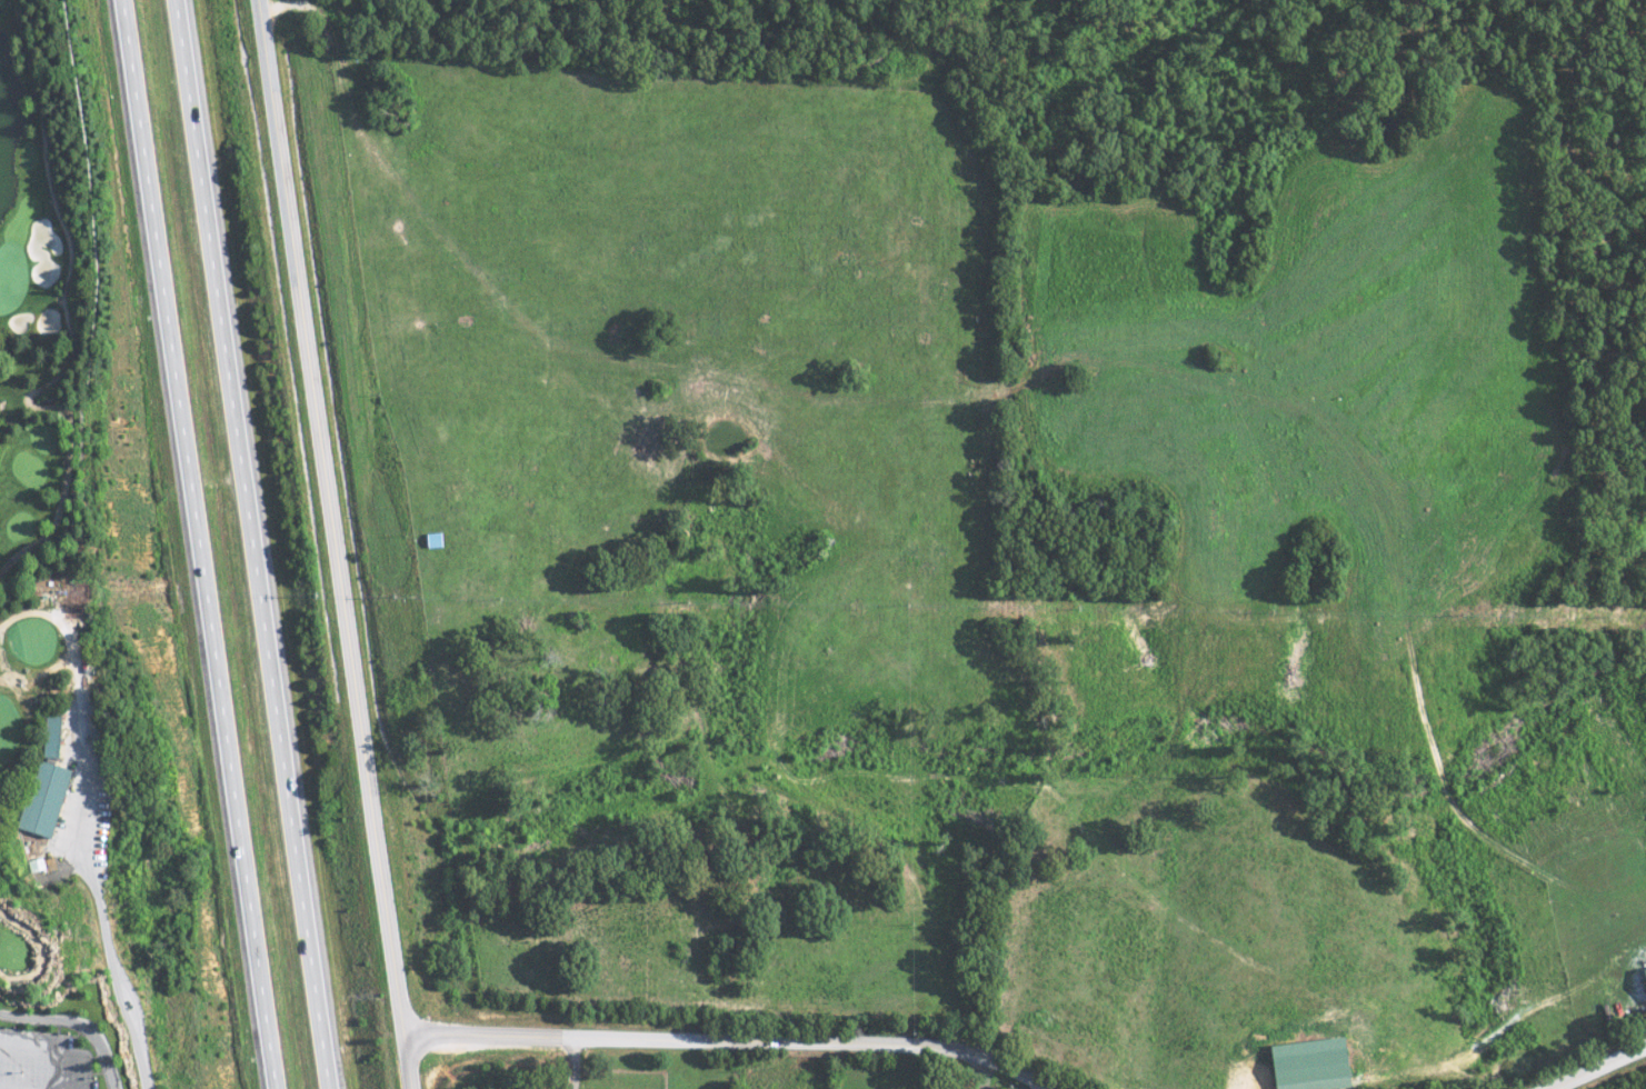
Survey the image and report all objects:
road: (64, 318)
park: (34, 407)
road: (326, 516)
road: (203, 543)
road: (247, 543)
building: (48, 798)
park: (23, 949)
road: (47, 951)
building: (1640, 980)
road: (78, 1025)
road: (724, 1040)
road: (396, 1060)
building: (1303, 1063)
road: (1596, 1068)

